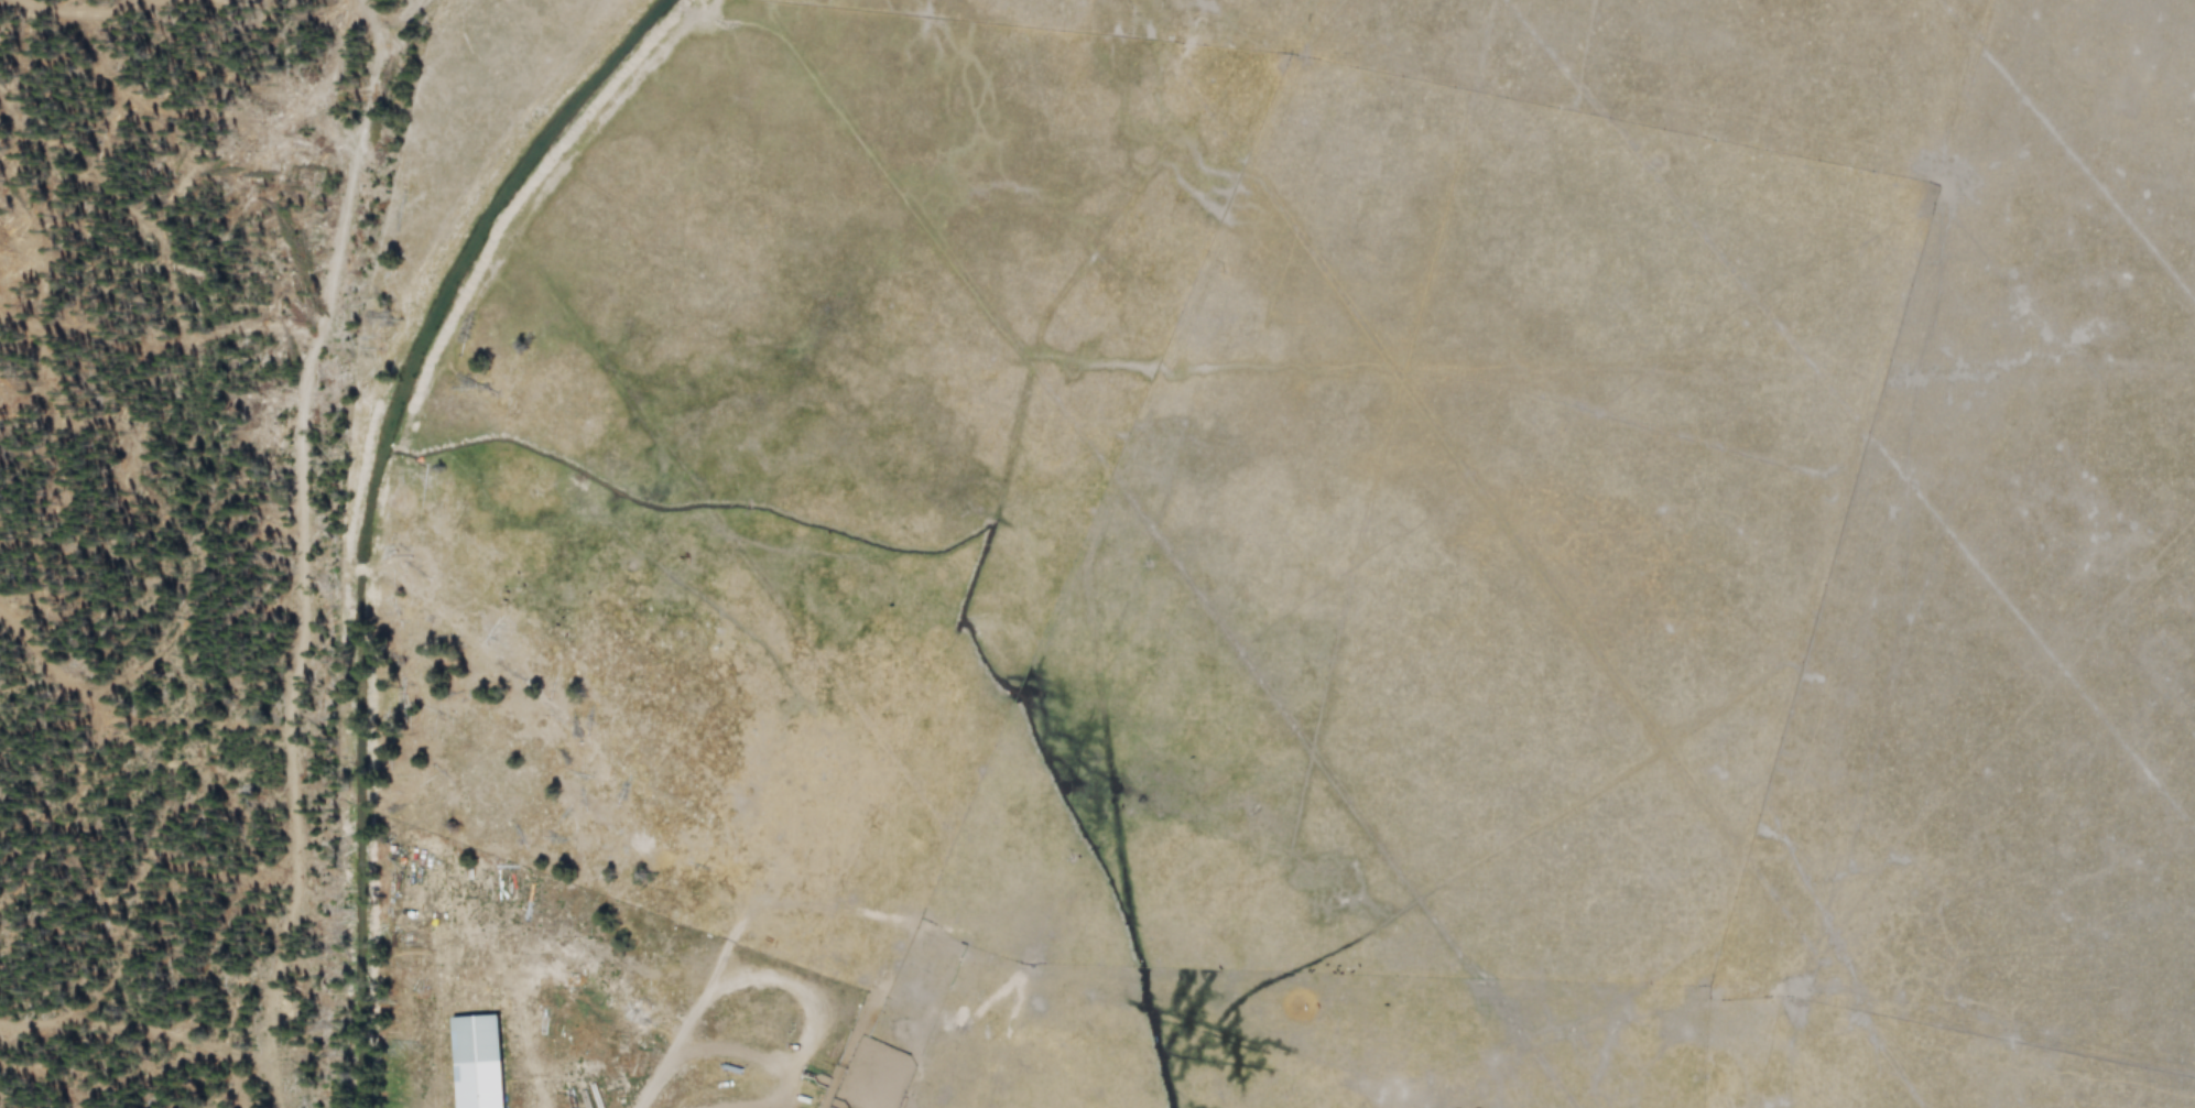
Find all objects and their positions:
building: (478, 1061)

